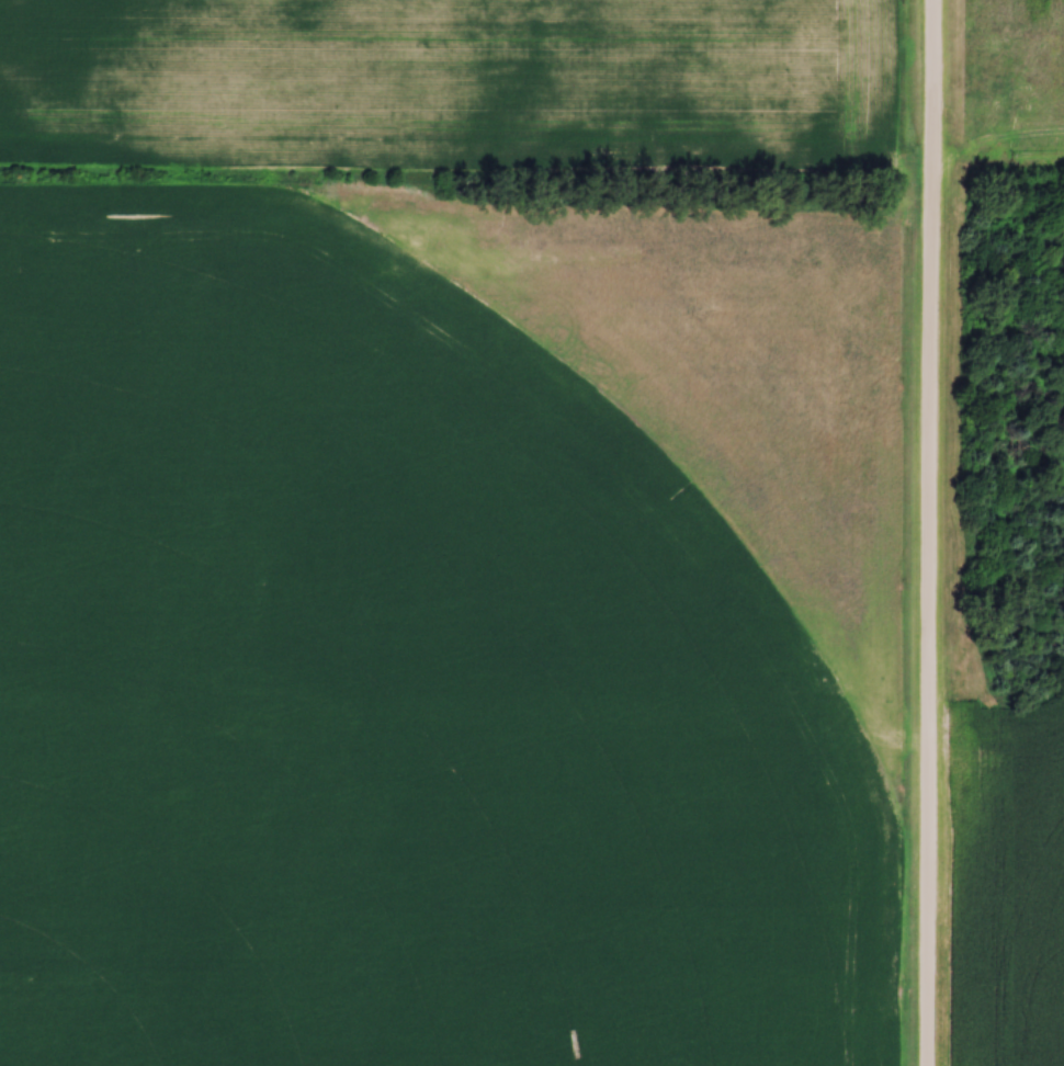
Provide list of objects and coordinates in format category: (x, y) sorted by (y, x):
road: (928, 533)

